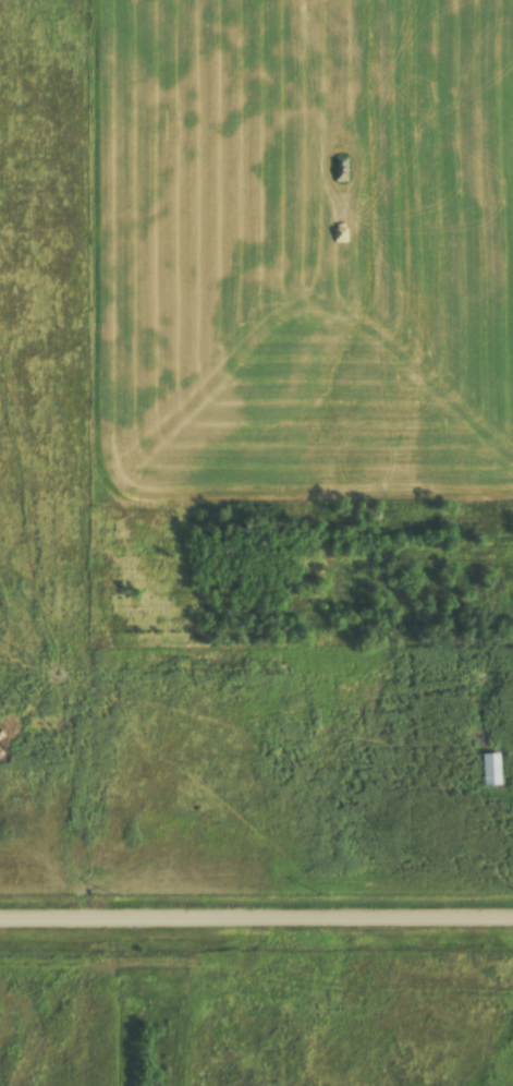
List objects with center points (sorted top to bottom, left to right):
building: (489, 771)
road: (256, 910)

